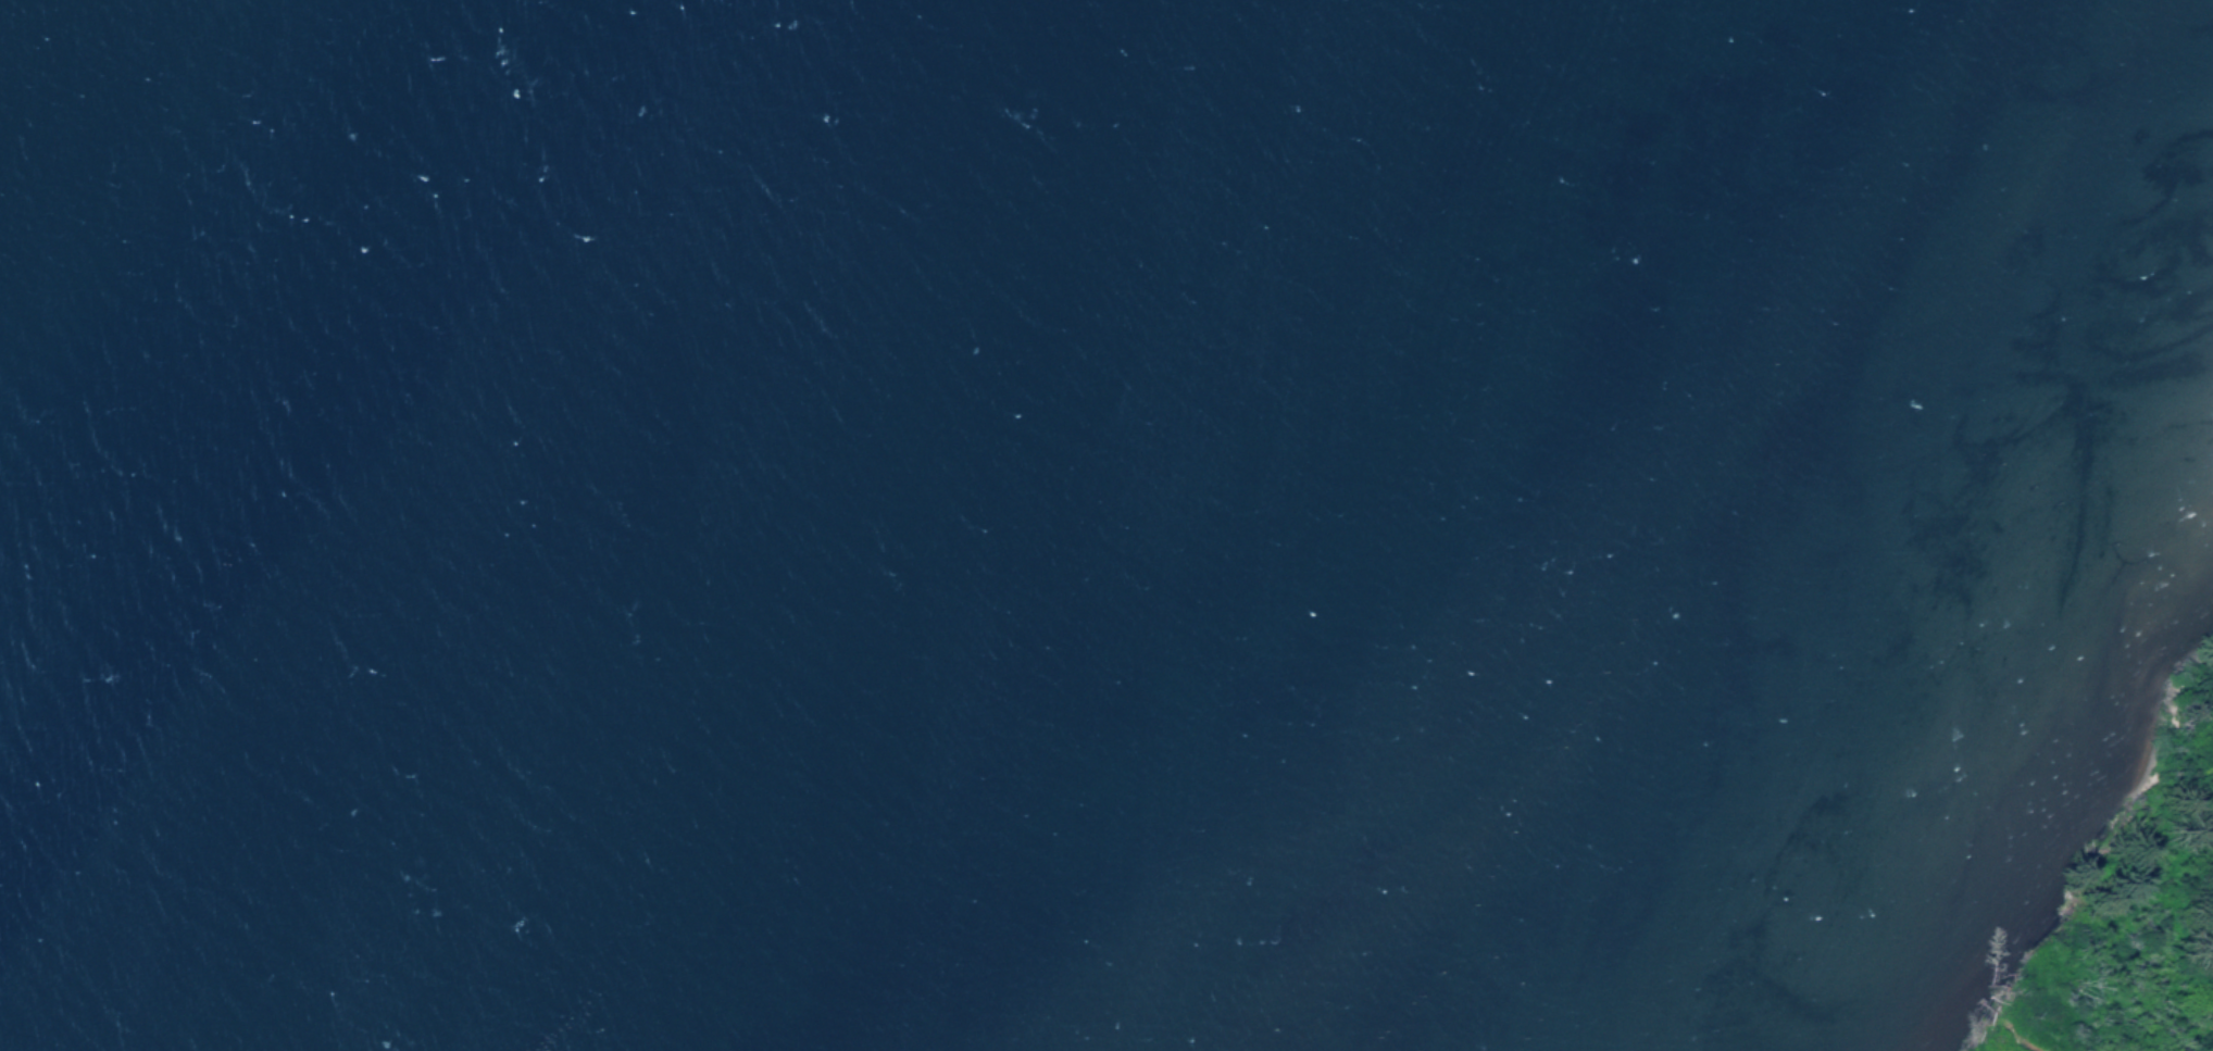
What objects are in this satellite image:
river: (500, 524)

